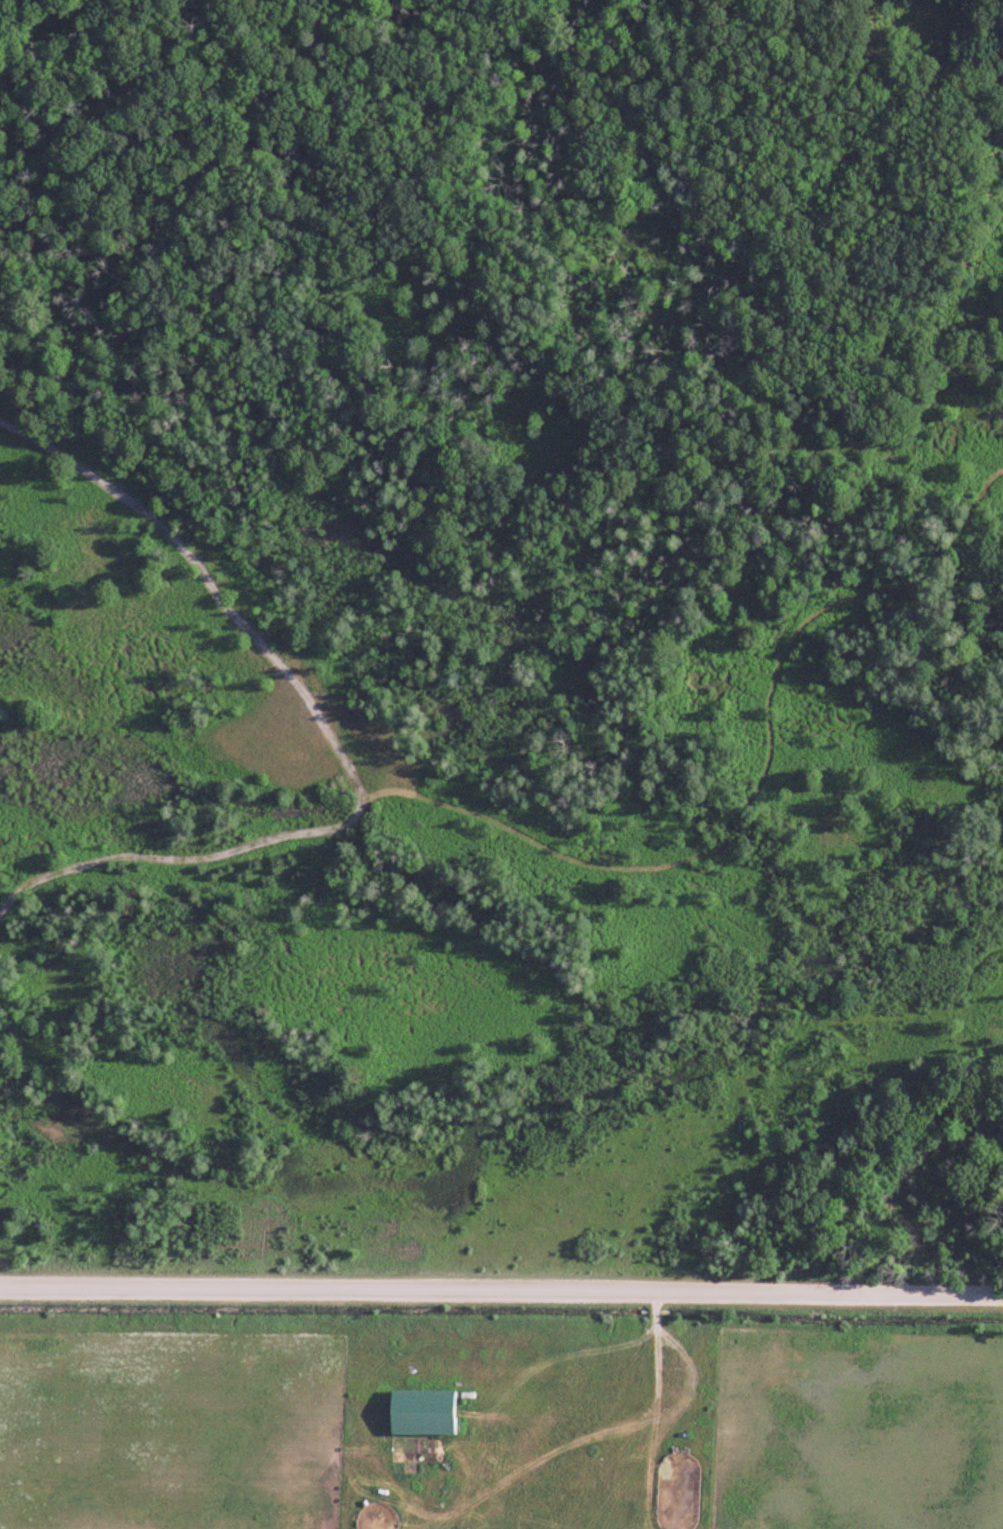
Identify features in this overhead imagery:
road: (501, 1294)
building: (423, 1413)

